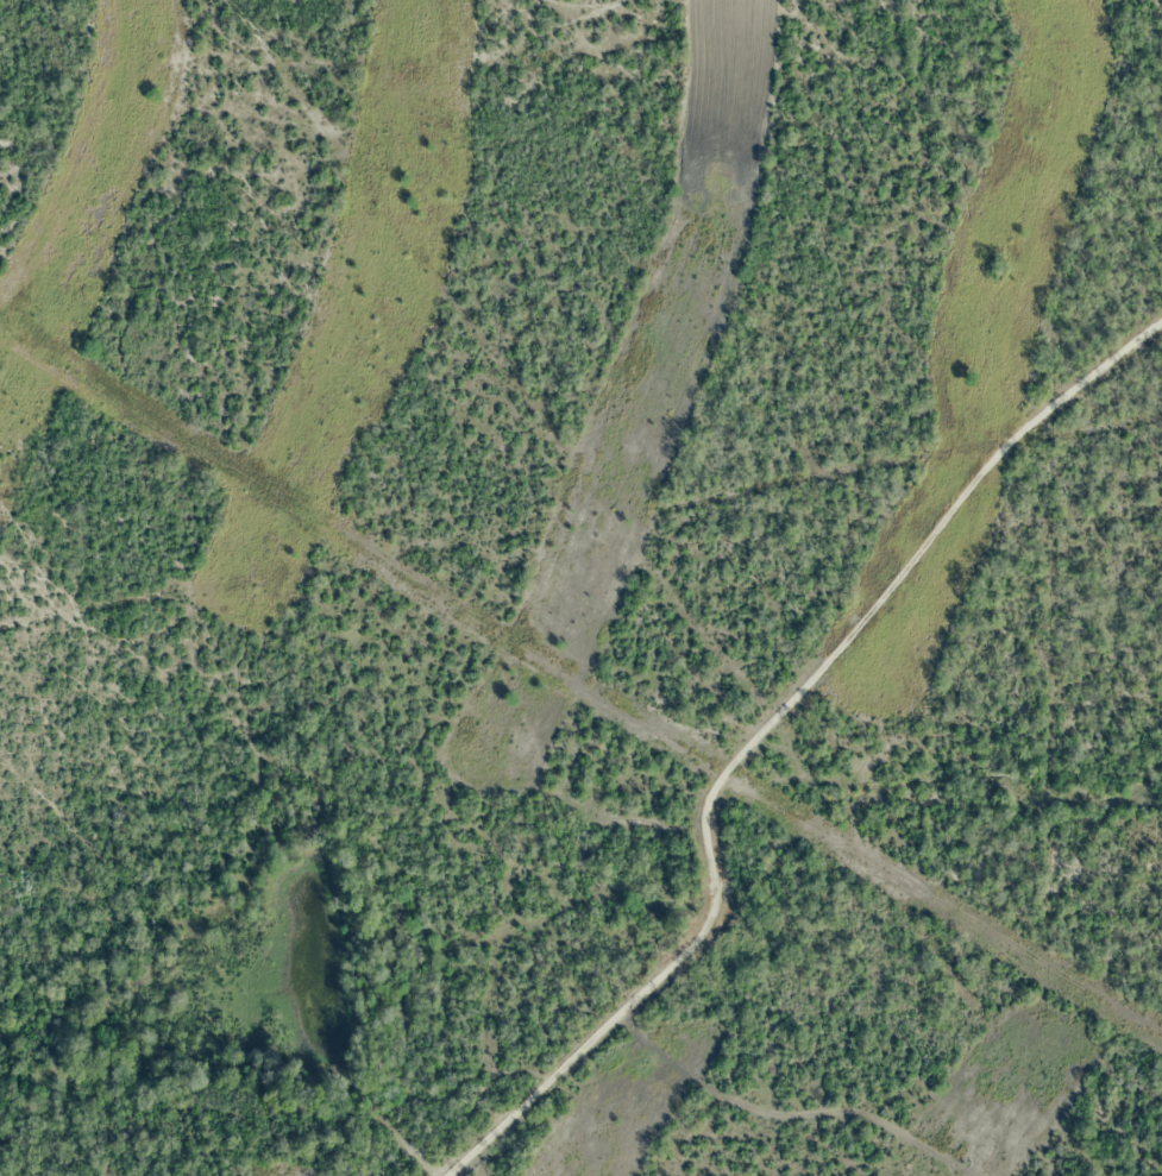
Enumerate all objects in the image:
road: (58, 669)

